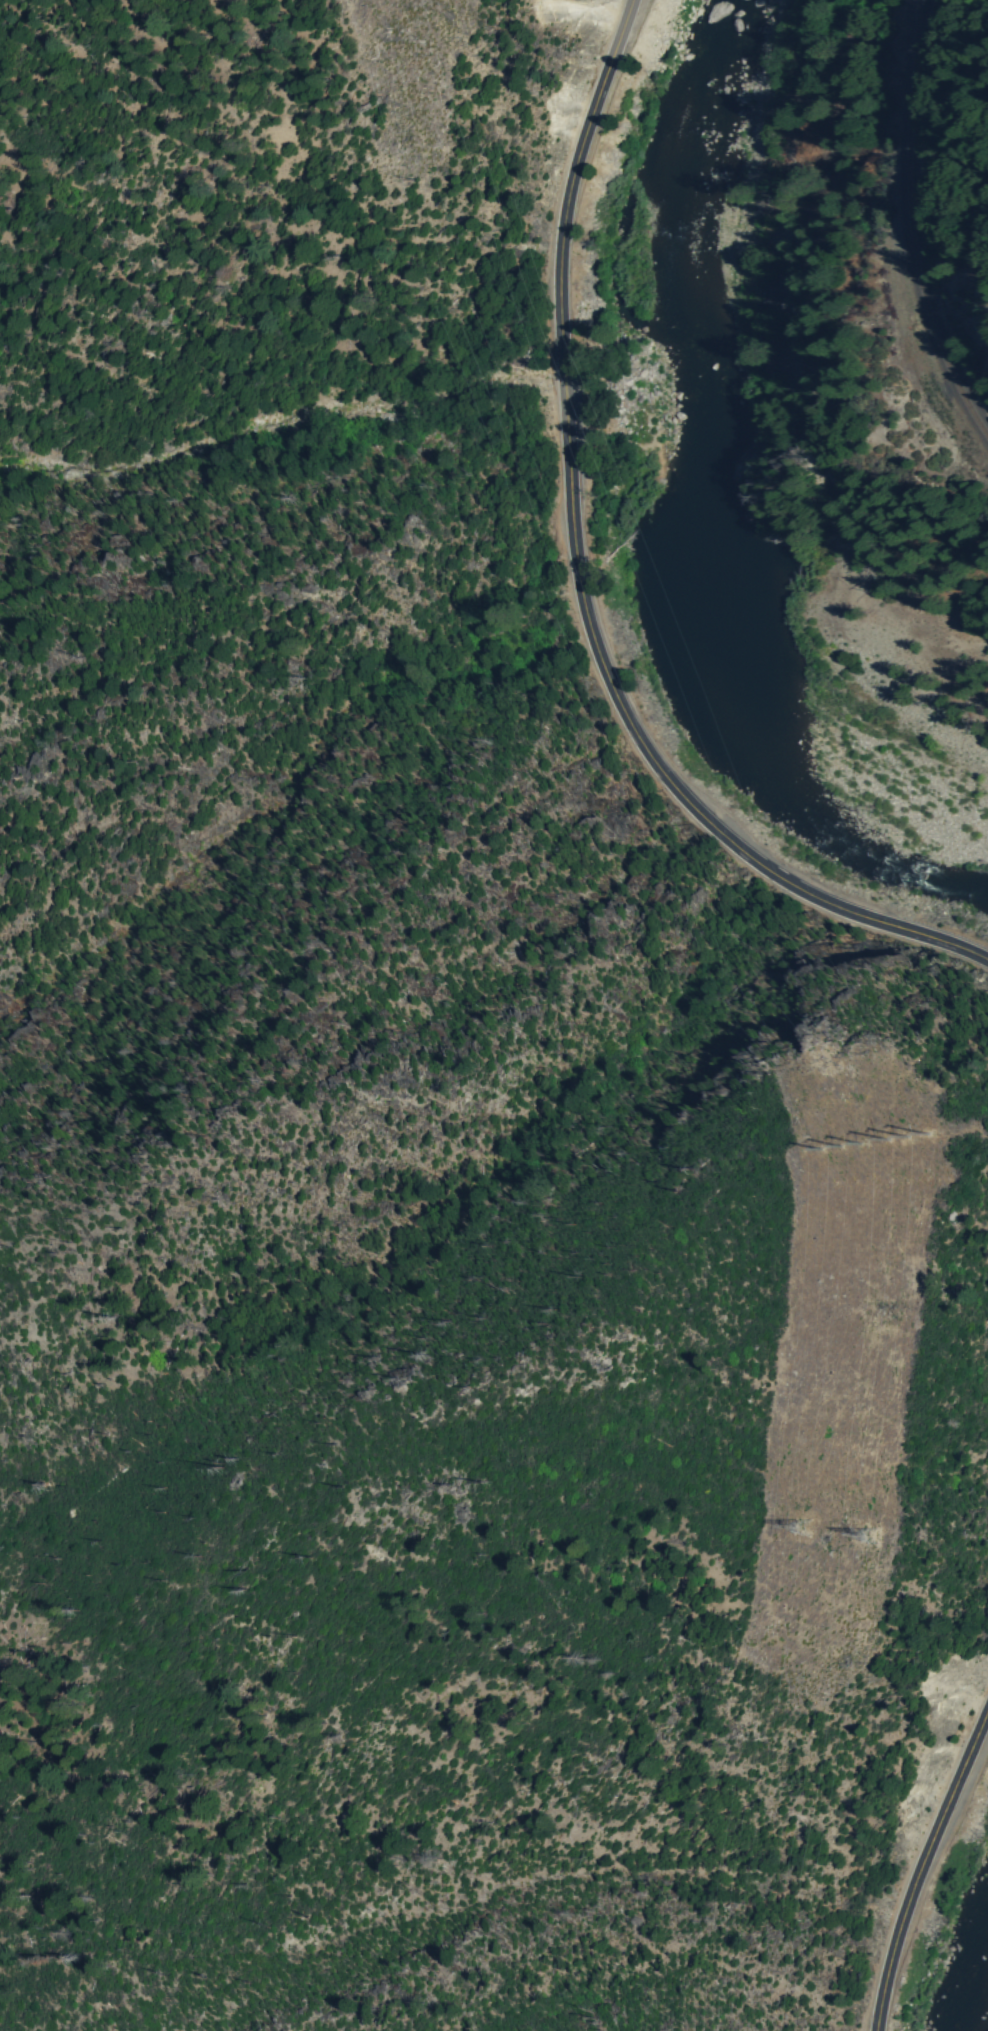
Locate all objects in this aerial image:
river: (707, 90)
railway: (909, 227)
river: (698, 292)
river: (709, 486)
road: (581, 580)
river: (739, 675)
river: (866, 867)
power tower: (911, 1137)
power tower: (844, 1145)
power tower: (802, 1527)
power tower: (869, 1535)
road: (920, 1868)
river: (973, 1975)

